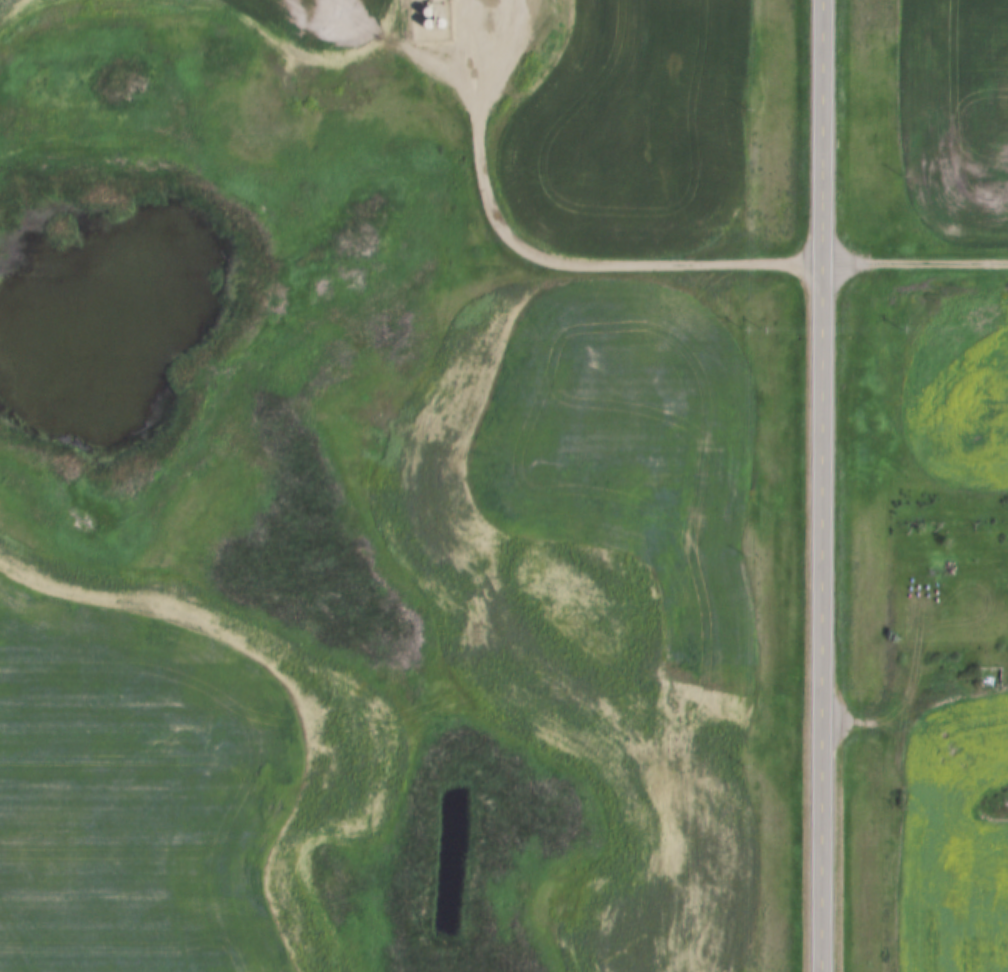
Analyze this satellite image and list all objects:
road: (535, 256)
road: (912, 259)
road: (817, 485)
road: (912, 719)

